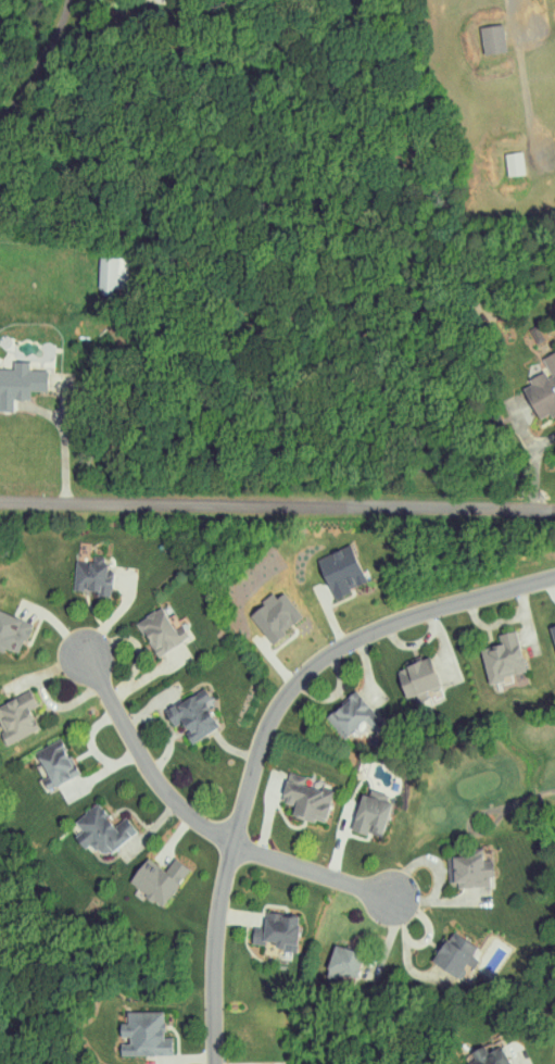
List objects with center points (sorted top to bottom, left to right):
building: (478, 33)
road: (37, 70)
building: (499, 158)
building: (12, 375)
building: (533, 380)
road: (64, 429)
road: (532, 466)
road: (277, 501)
building: (326, 565)
building: (76, 569)
building: (258, 610)
building: (142, 627)
building: (4, 628)
building: (545, 631)
building: (485, 652)
building: (400, 671)
building: (191, 715)
building: (349, 715)
building: (16, 717)
road: (262, 726)
road: (146, 760)
building: (54, 763)
park: (494, 793)
building: (305, 800)
building: (368, 816)
building: (100, 830)
building: (467, 869)
road: (313, 871)
building: (157, 879)
building: (276, 931)
building: (452, 954)
building: (342, 963)
building: (143, 1032)
building: (485, 1057)

